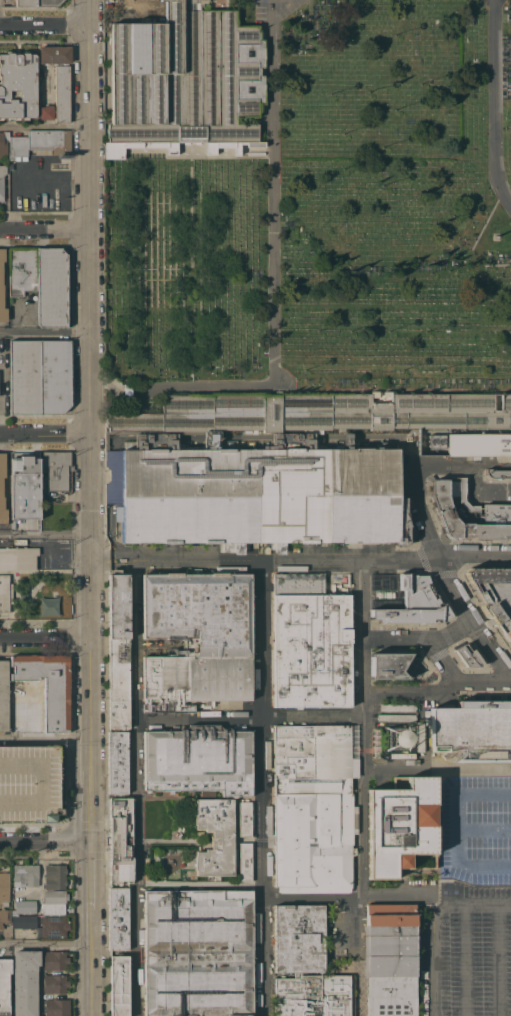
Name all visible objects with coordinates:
building: (37, 2)
parking lot: (259, 12)
road: (42, 22)
building: (54, 54)
building: (42, 71)
building: (184, 77)
building: (17, 85)
building: (62, 93)
road: (494, 105)
building: (46, 113)
road: (42, 127)
building: (40, 142)
building: (3, 143)
building: (2, 180)
road: (274, 194)
park: (301, 217)
road: (485, 219)
road: (42, 234)
road: (496, 264)
building: (22, 270)
building: (51, 287)
building: (2, 288)
road: (43, 333)
building: (55, 376)
building: (25, 377)
road: (191, 377)
road: (86, 384)
road: (180, 389)
road: (392, 391)
building: (127, 392)
building: (317, 412)
road: (43, 433)
building: (479, 444)
road: (493, 463)
building: (57, 470)
building: (498, 472)
building: (2, 490)
building: (24, 494)
building: (293, 496)
building: (365, 496)
building: (157, 497)
building: (224, 497)
building: (488, 508)
building: (403, 523)
road: (425, 525)
road: (43, 537)
building: (18, 558)
road: (298, 560)
power substation: (384, 591)
building: (5, 593)
building: (494, 595)
building: (413, 603)
building: (118, 604)
building: (54, 607)
building: (169, 613)
building: (222, 614)
road: (450, 632)
road: (43, 638)
building: (310, 642)
road: (420, 643)
building: (468, 656)
building: (387, 665)
building: (430, 675)
building: (218, 678)
building: (118, 682)
building: (164, 684)
building: (48, 686)
road: (439, 693)
building: (4, 695)
building: (484, 703)
building: (397, 707)
road: (250, 717)
building: (396, 717)
building: (469, 727)
building: (389, 731)
building: (403, 731)
building: (409, 734)
building: (420, 735)
road: (43, 738)
building: (395, 740)
water tower: (396, 740)
building: (388, 747)
building: (402, 747)
building: (316, 751)
building: (485, 753)
building: (396, 755)
building: (117, 761)
building: (198, 761)
road: (438, 766)
building: (29, 783)
parking lot: (29, 783)
building: (311, 785)
road: (362, 786)
road: (264, 789)
road: (137, 790)
road: (201, 797)
road: (88, 805)
building: (245, 818)
building: (400, 825)
road: (457, 828)
parking lot: (477, 830)
building: (216, 837)
building: (120, 839)
road: (166, 840)
park: (169, 840)
road: (44, 842)
traffic signals: (88, 842)
building: (313, 842)
building: (245, 861)
building: (25, 875)
building: (54, 876)
road: (88, 876)
building: (4, 888)
road: (324, 898)
building: (54, 902)
building: (23, 906)
building: (390, 914)
building: (4, 916)
building: (118, 918)
building: (197, 920)
building: (23, 922)
building: (52, 926)
building: (299, 938)
road: (44, 945)
building: (388, 950)
parking lot: (472, 950)
road: (465, 959)
road: (497, 959)
building: (54, 960)
road: (431, 962)
road: (88, 963)
building: (25, 982)
building: (54, 983)
building: (197, 983)
building: (119, 985)
building: (4, 986)
building: (312, 995)
building: (391, 995)
building: (56, 1007)
building: (237, 1015)

